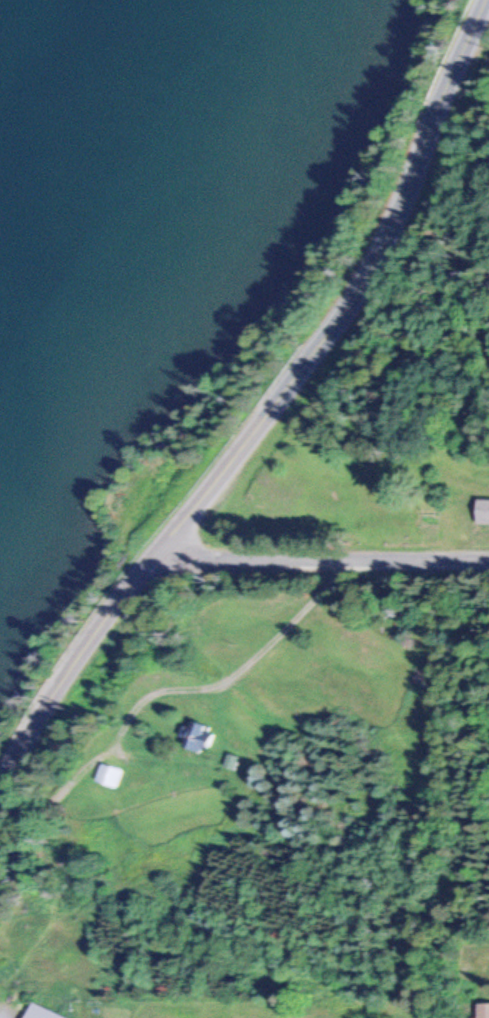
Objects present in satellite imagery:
road: (264, 408)
building: (482, 511)
road: (324, 556)
building: (199, 737)
building: (232, 761)
building: (115, 776)
building: (469, 972)
building: (482, 1010)
building: (41, 1012)

